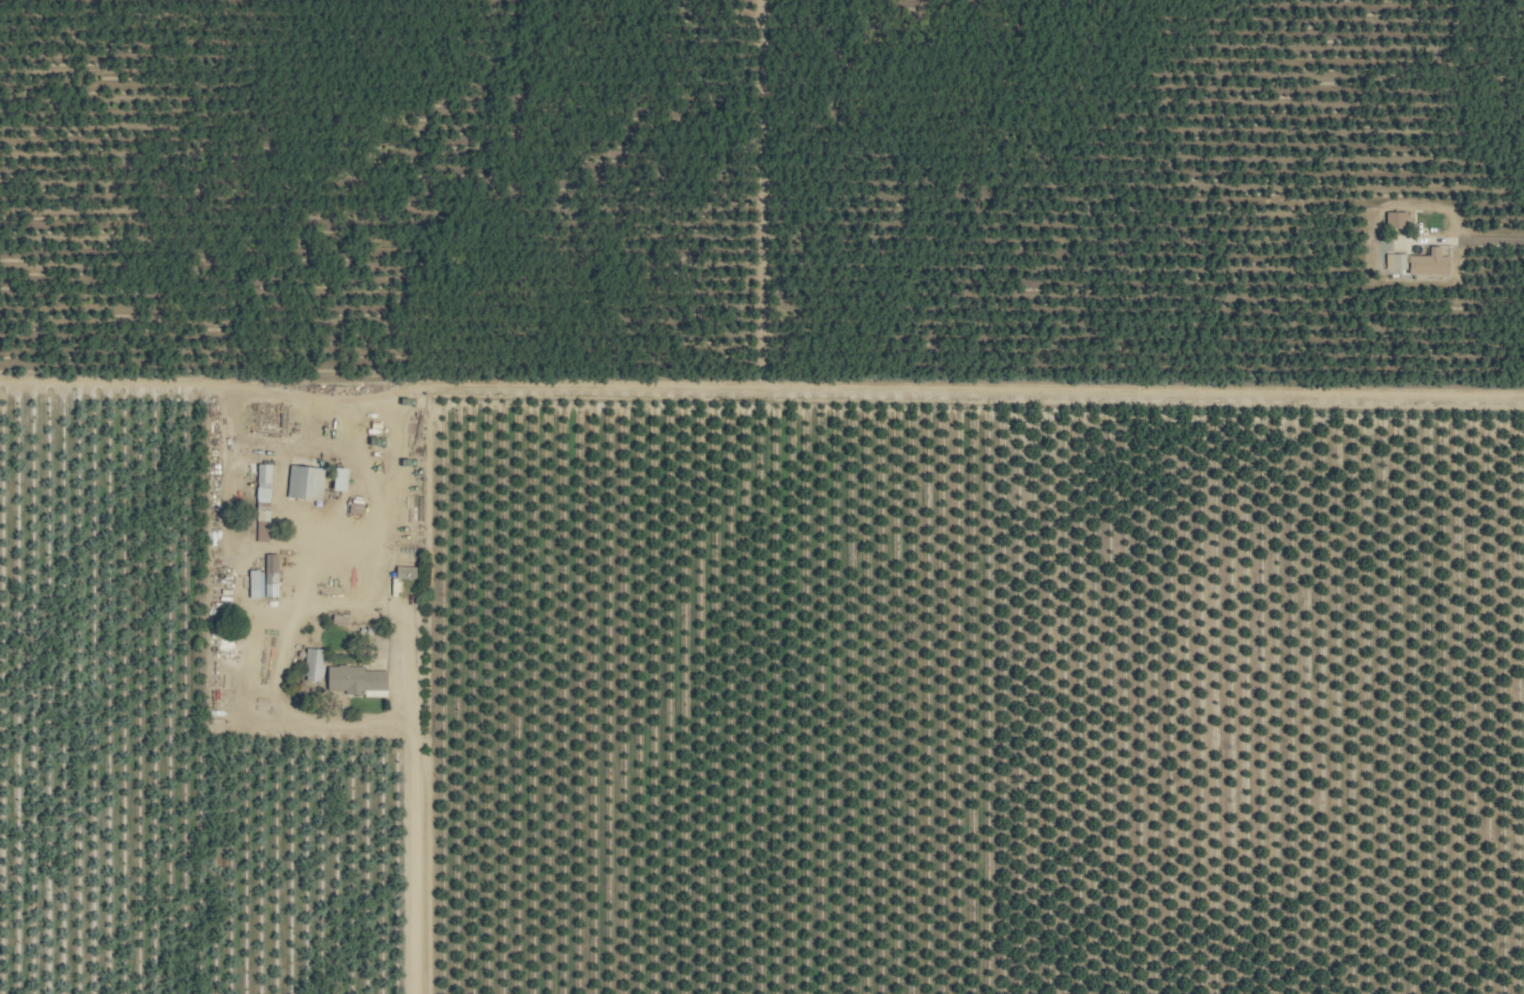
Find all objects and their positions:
building: (1398, 219)
road: (1490, 236)
building: (1397, 260)
building: (1431, 263)
road: (890, 391)
building: (344, 479)
building: (306, 482)
crop: (762, 497)
building: (264, 500)
road: (317, 545)
building: (272, 574)
building: (315, 663)
road: (279, 675)
building: (358, 680)
road: (409, 743)

